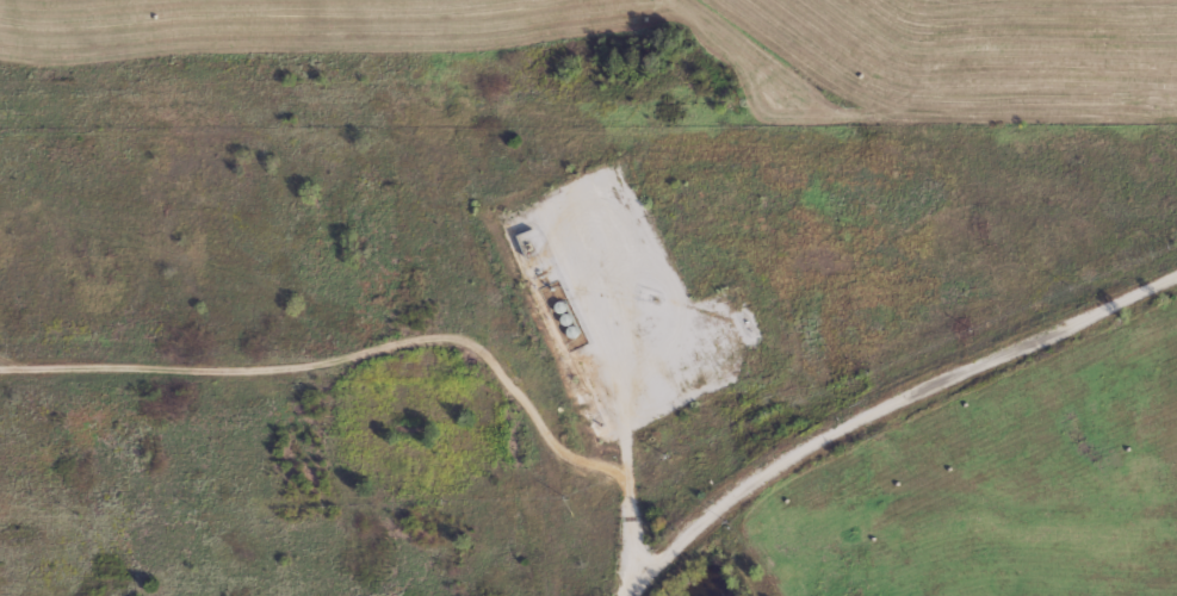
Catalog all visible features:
road: (255, 374)
road: (884, 409)
road: (590, 464)

